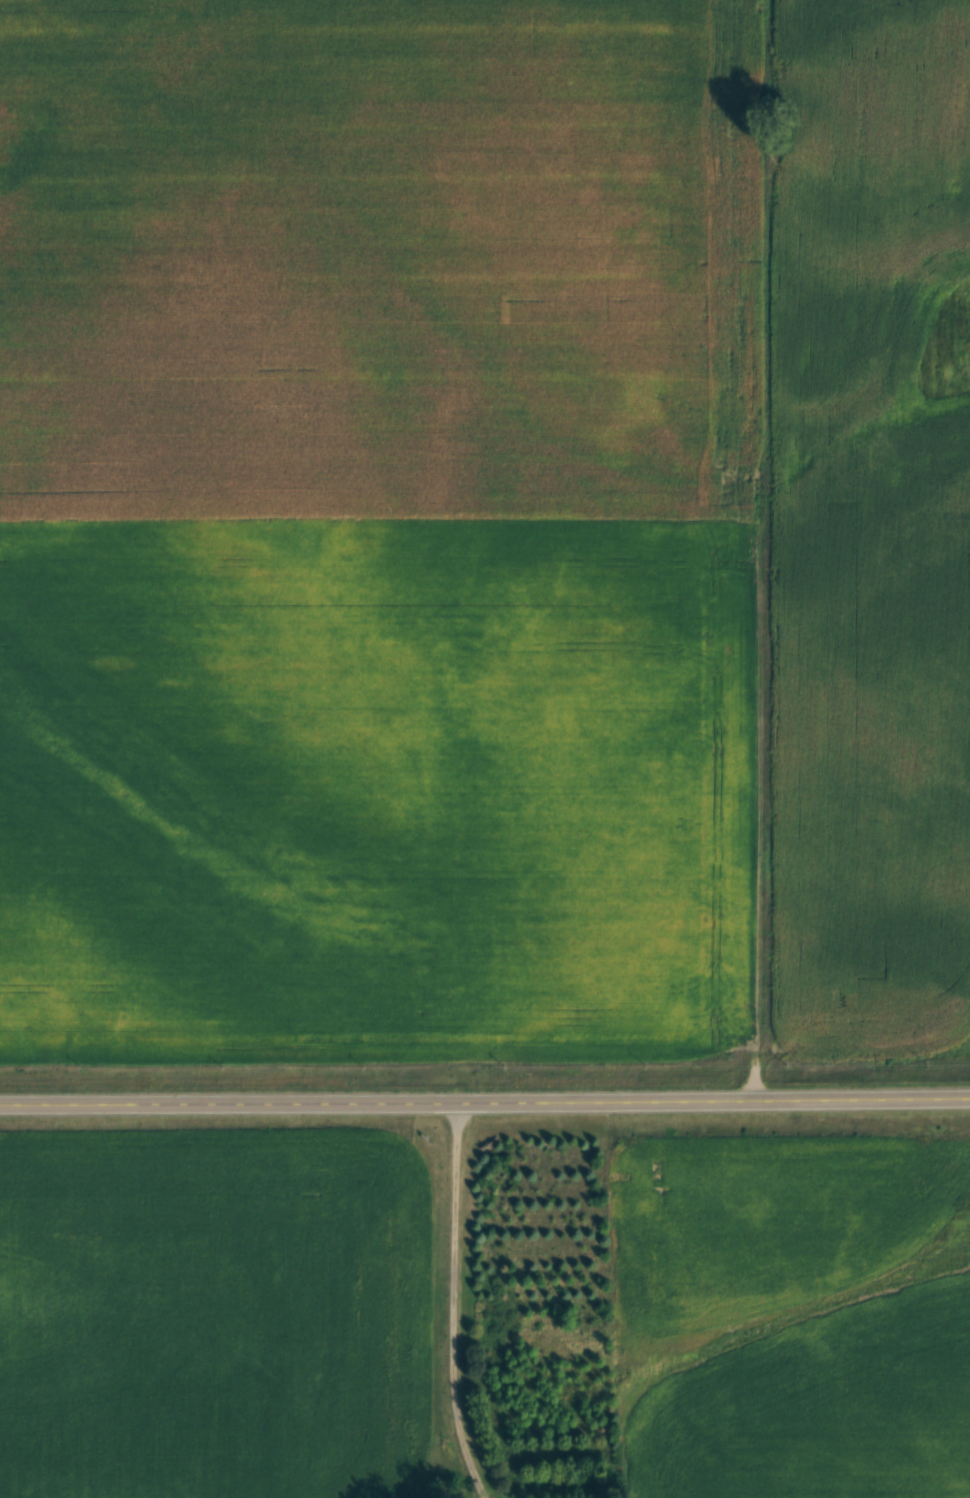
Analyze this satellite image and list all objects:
road: (485, 1097)
road: (454, 1300)

